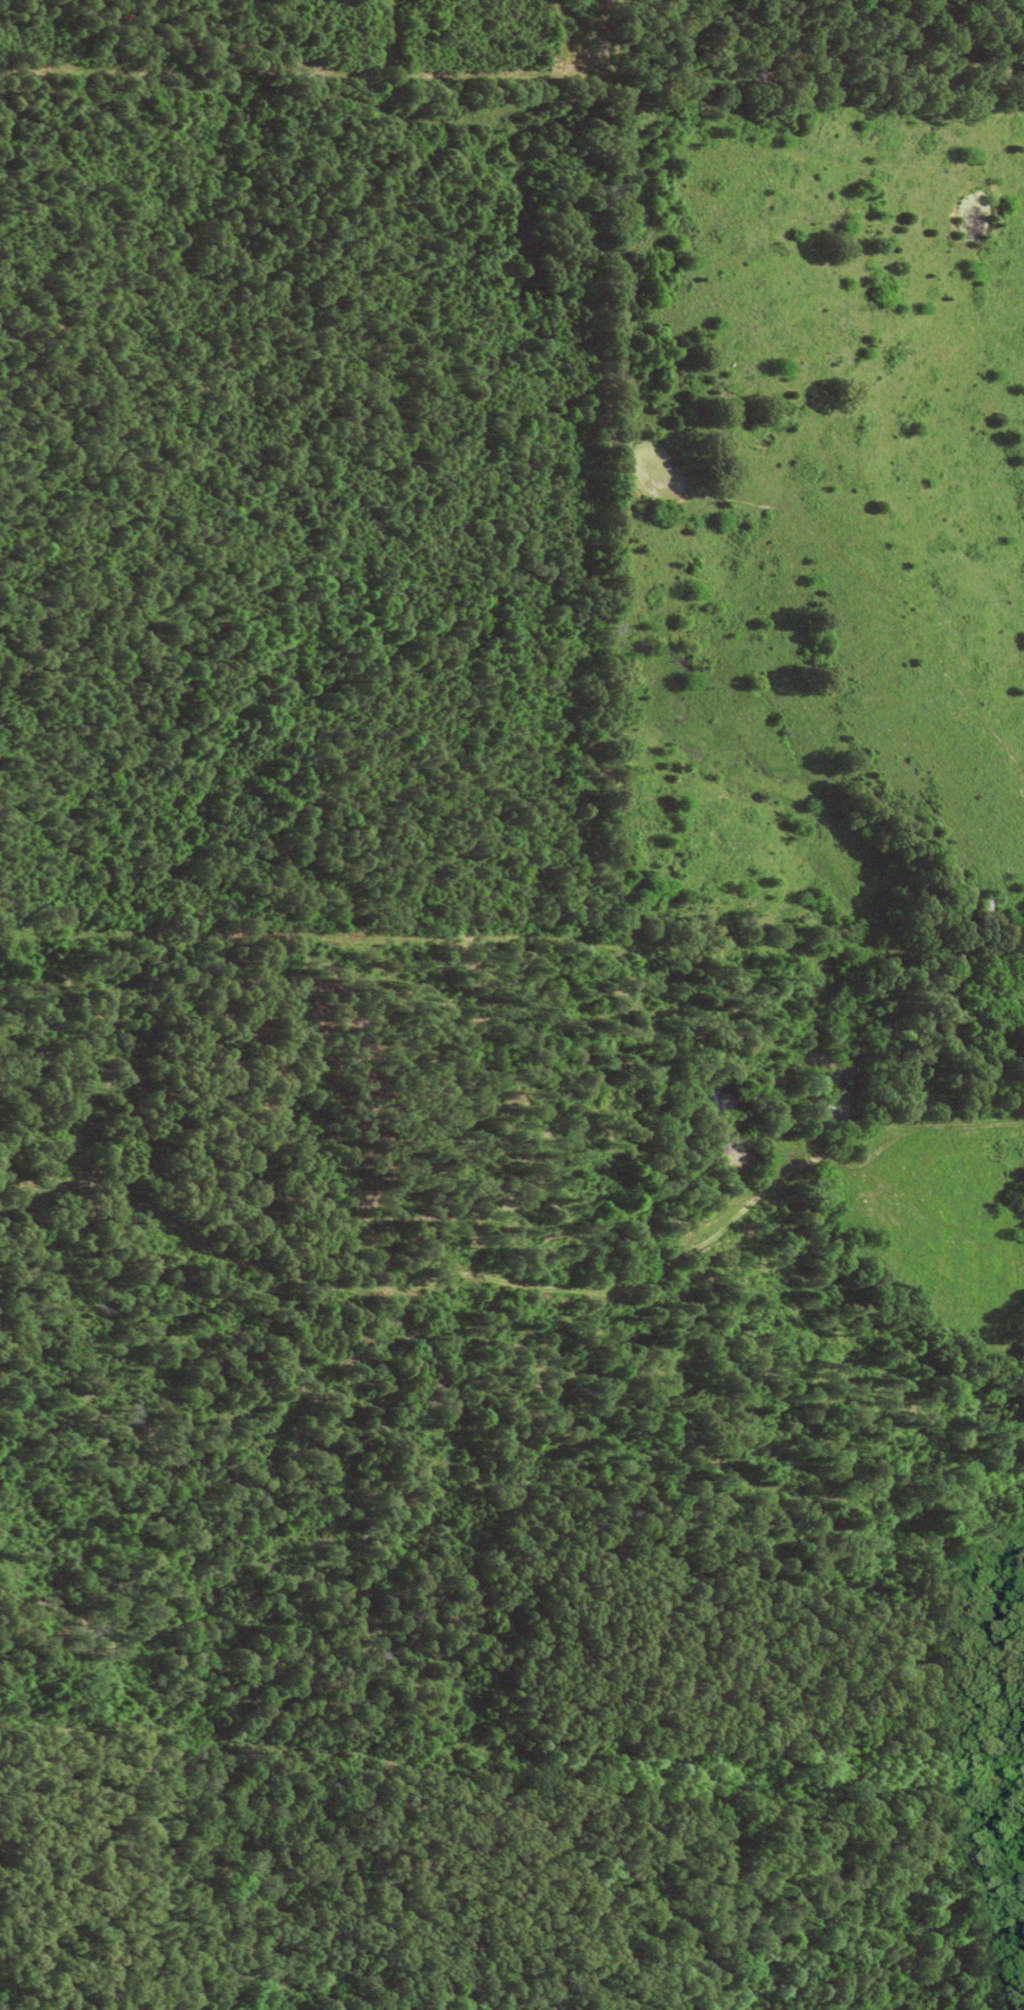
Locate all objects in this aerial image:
road: (820, 89)

